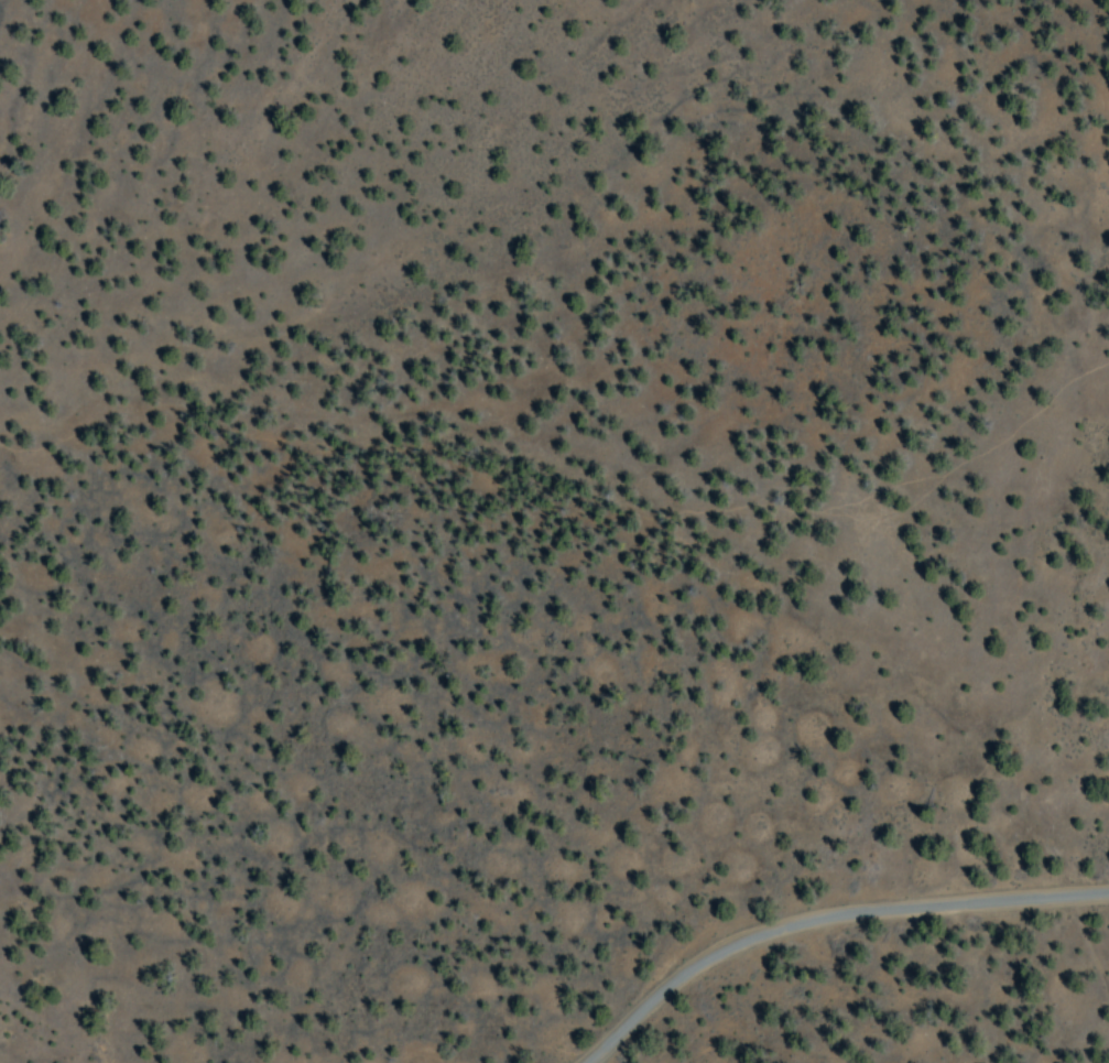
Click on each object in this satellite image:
road: (826, 918)

